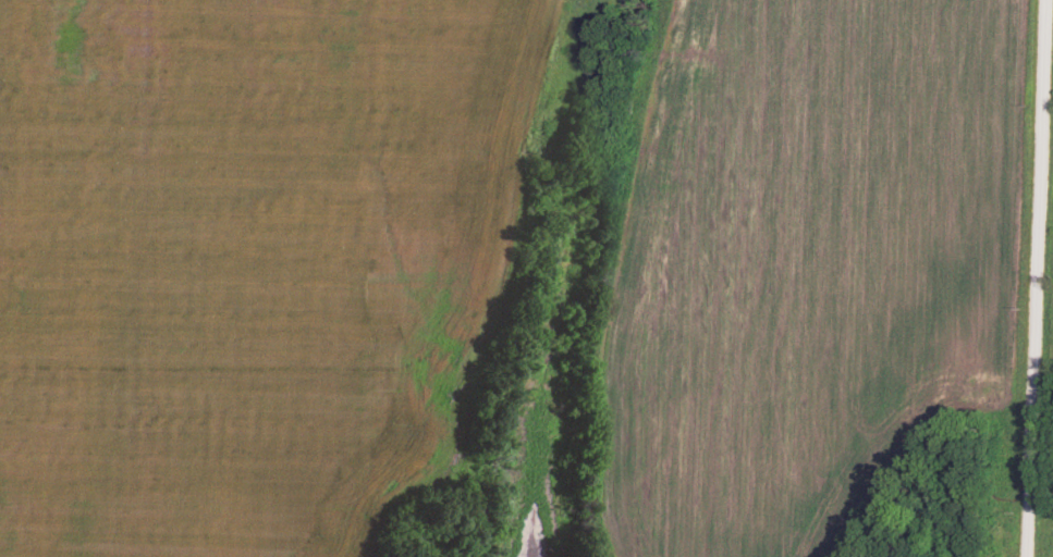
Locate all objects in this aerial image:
road: (1039, 278)

